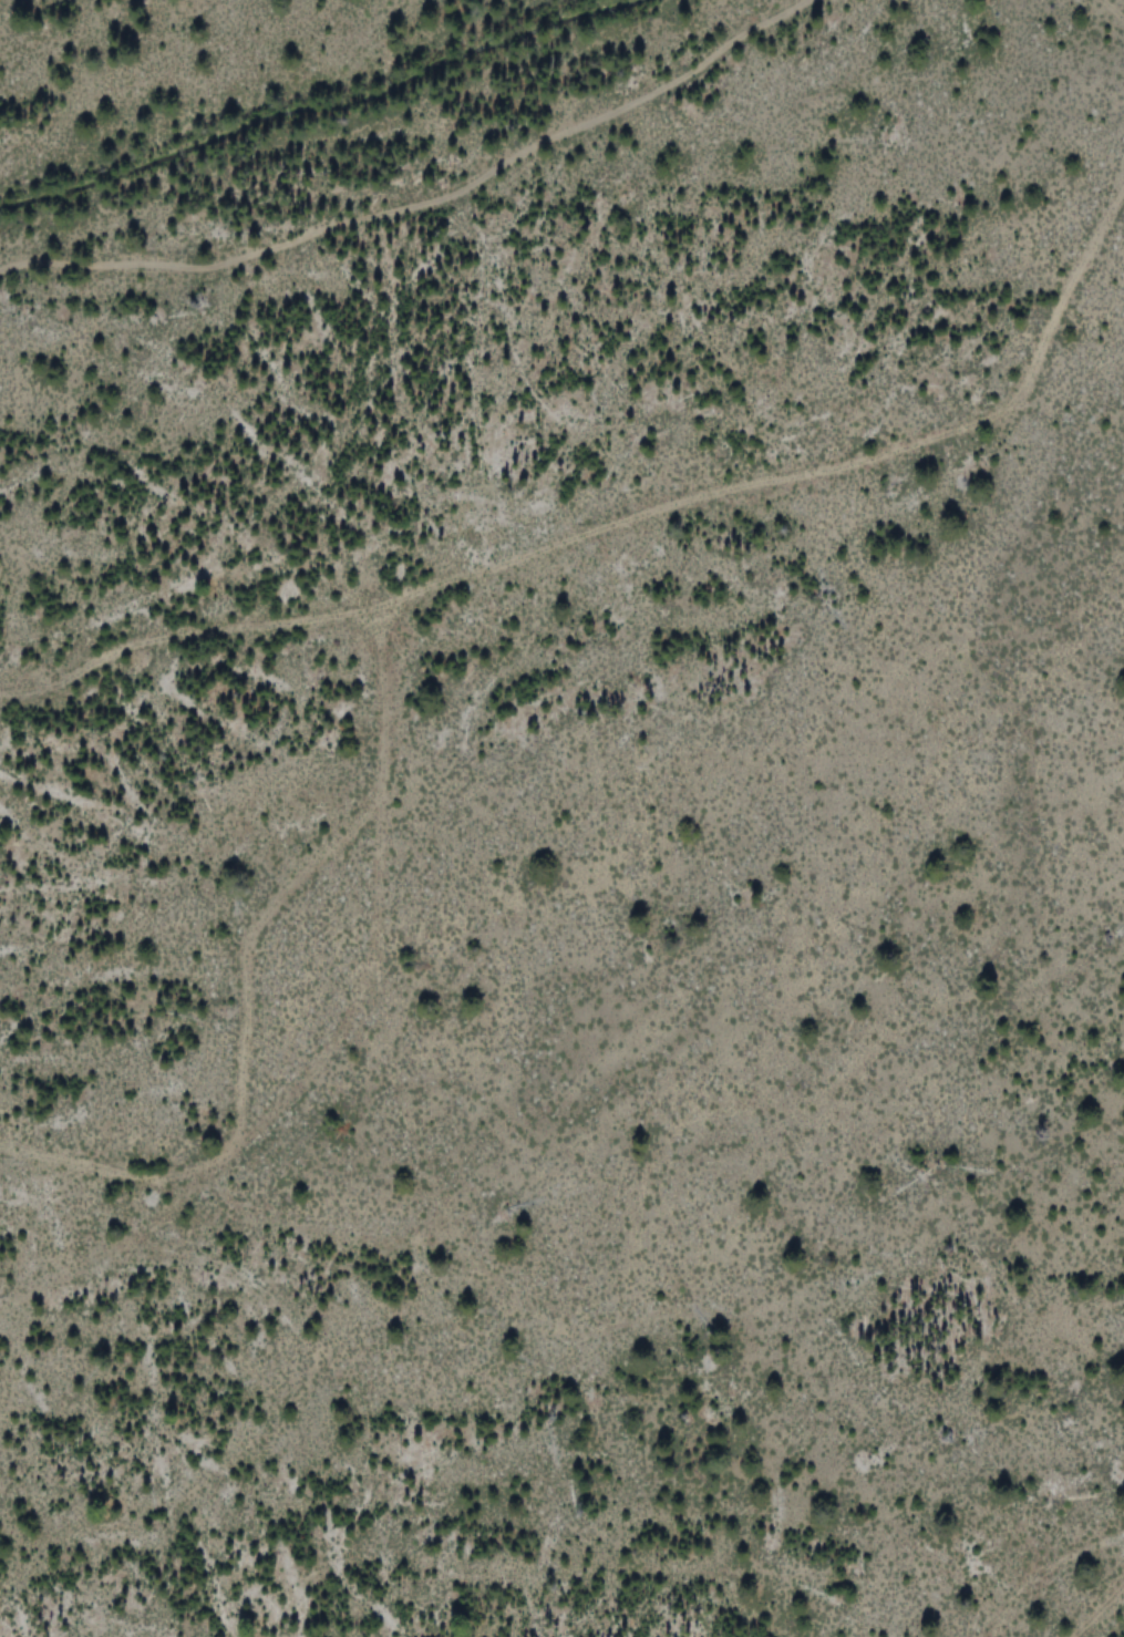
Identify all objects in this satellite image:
road: (530, 216)
road: (19, 1515)

